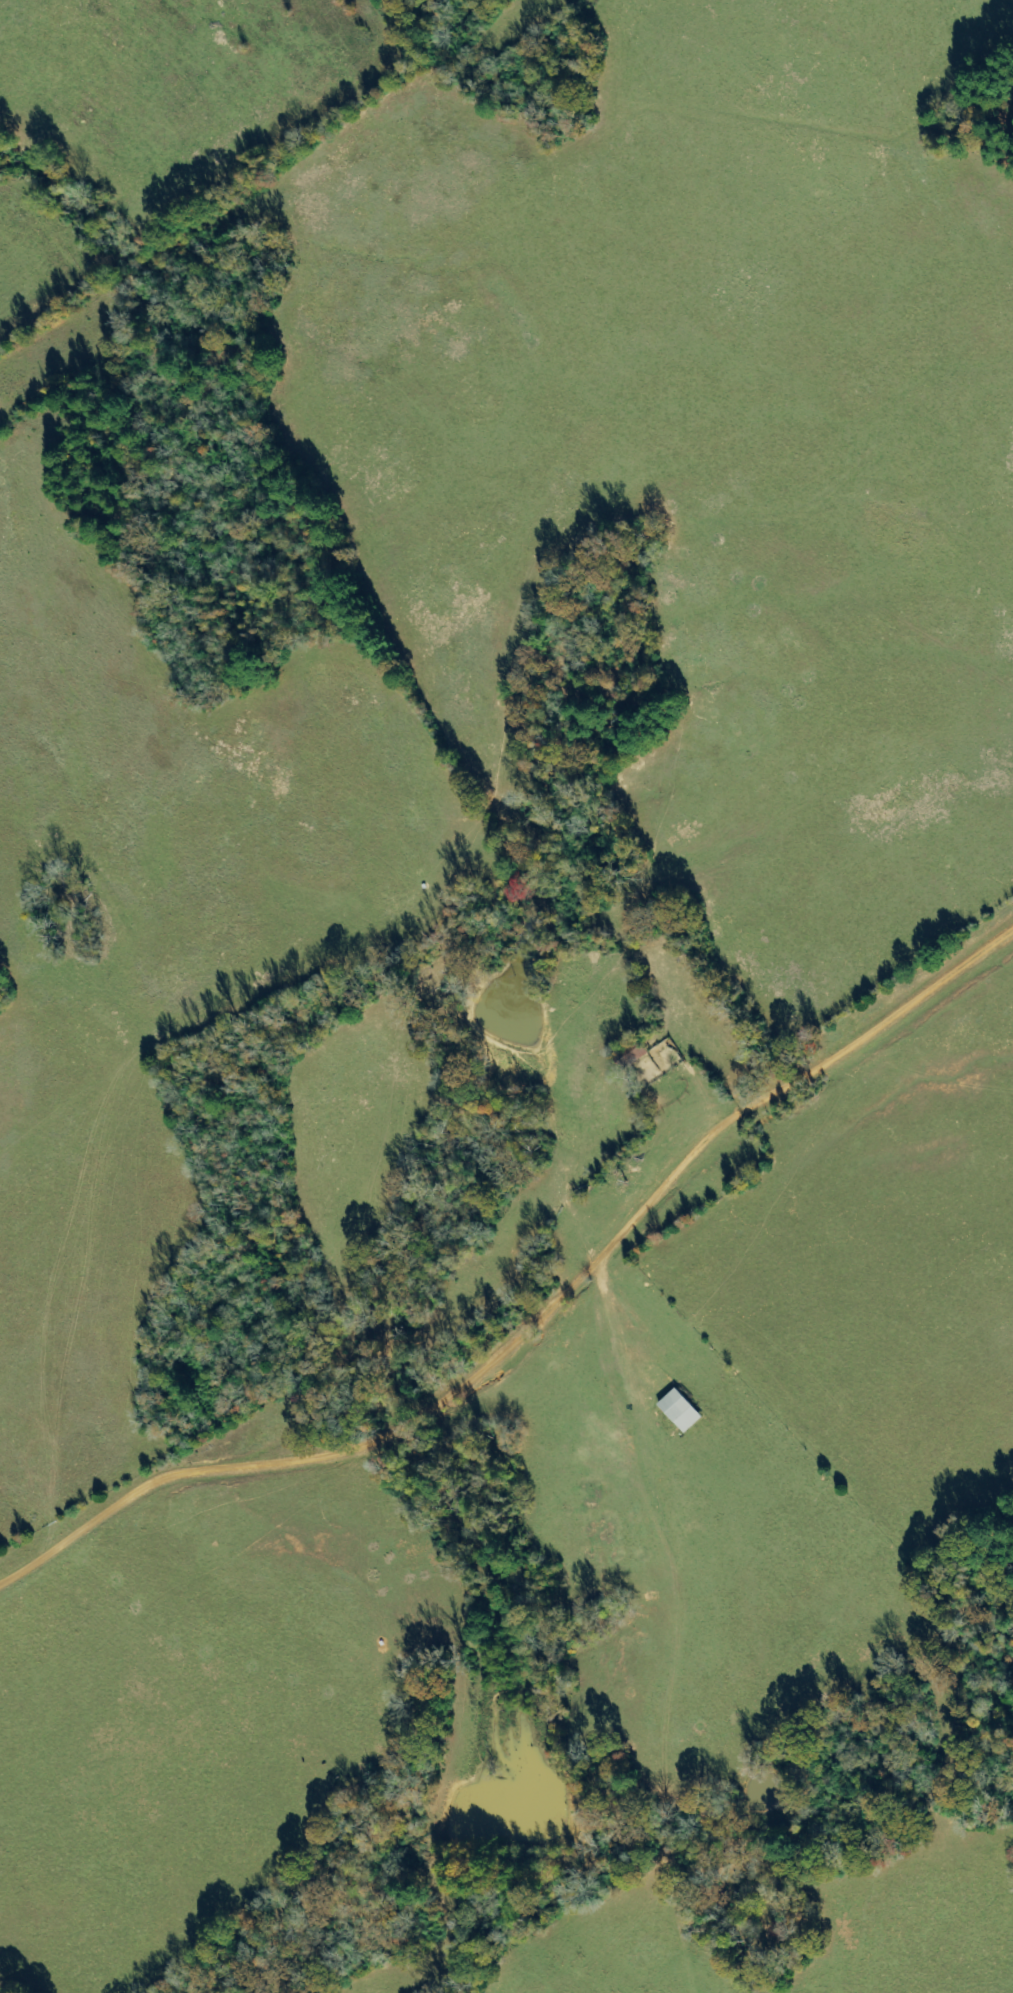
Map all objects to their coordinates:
building: (682, 1410)

